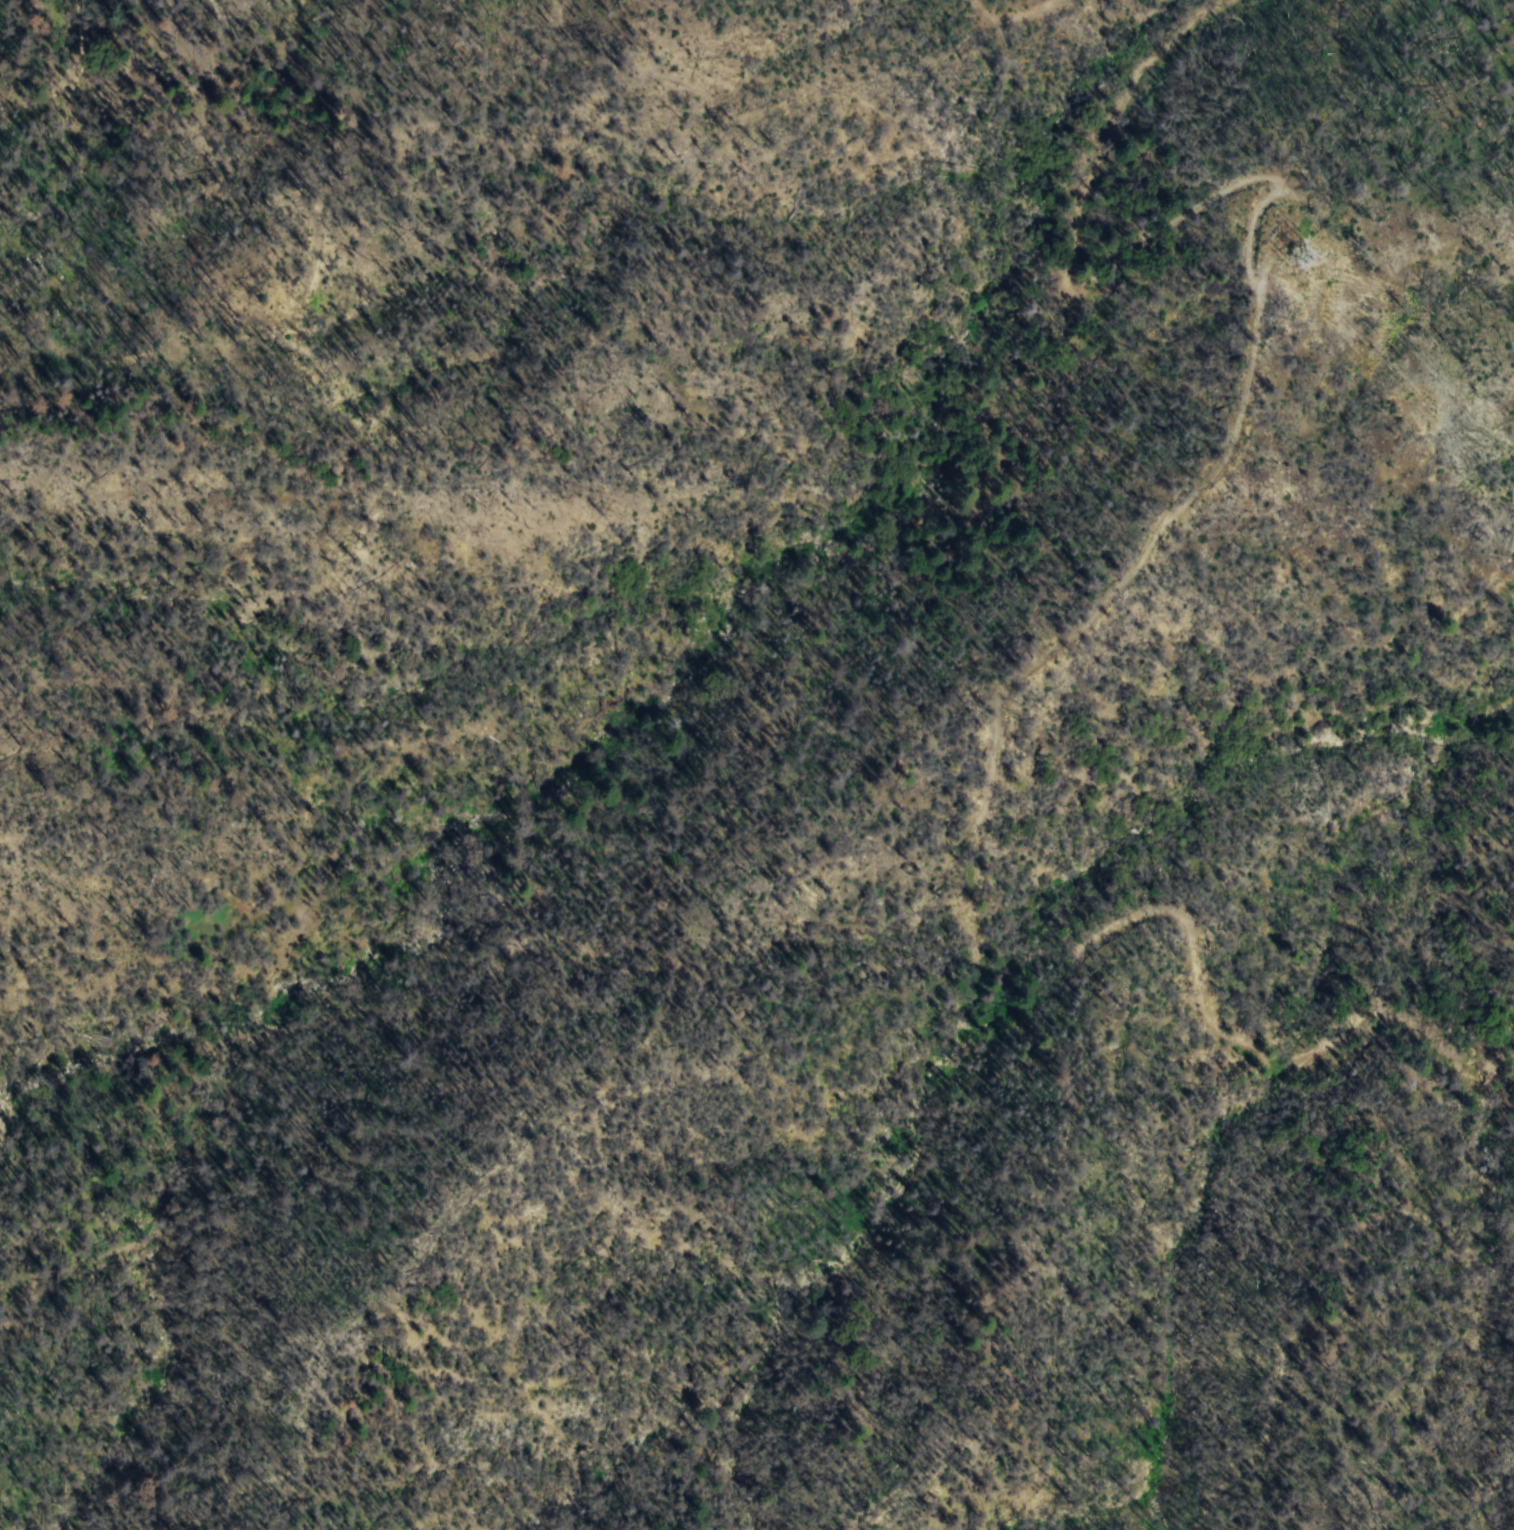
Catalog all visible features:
power tower: (1308, 260)

